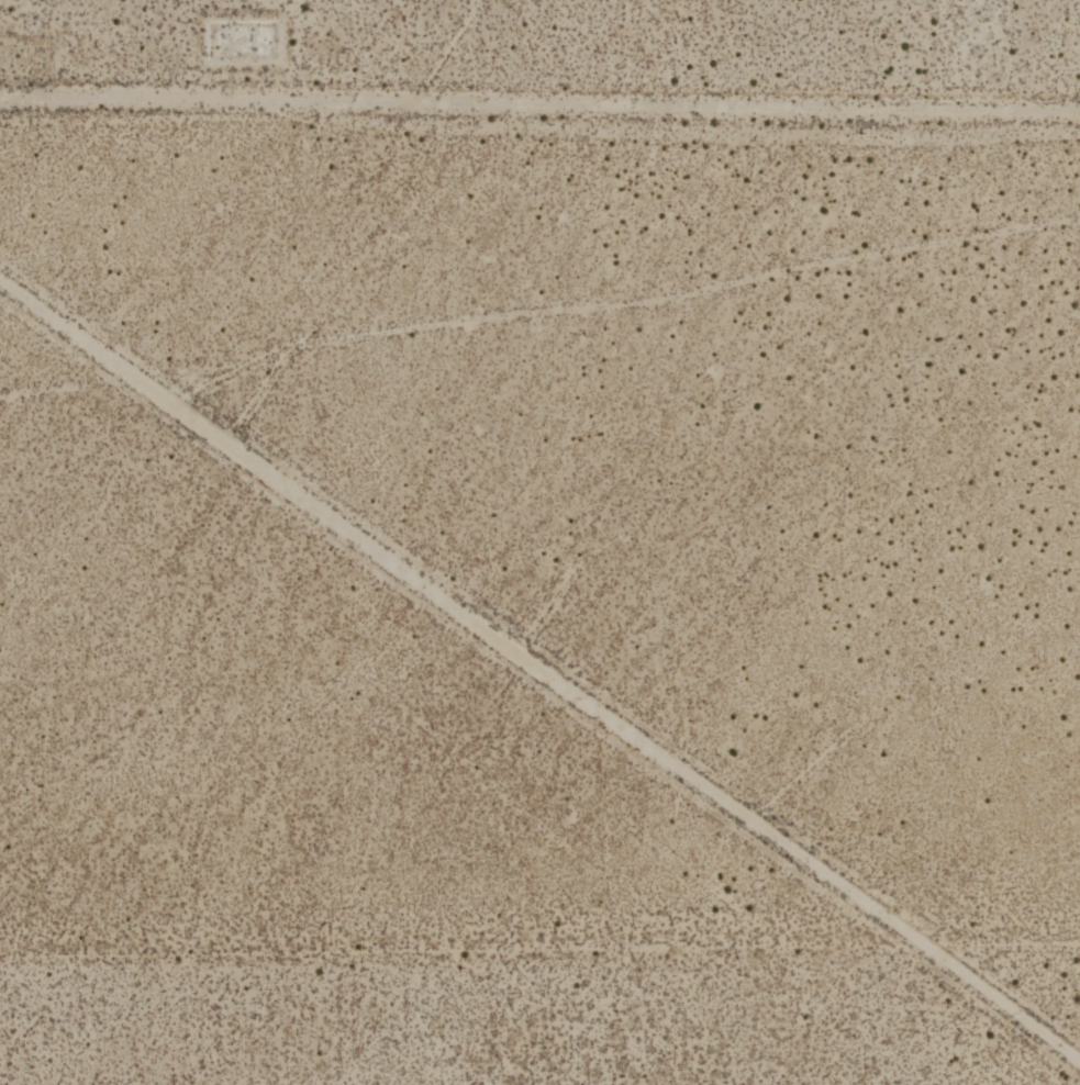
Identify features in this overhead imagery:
airport: (539, 542)

